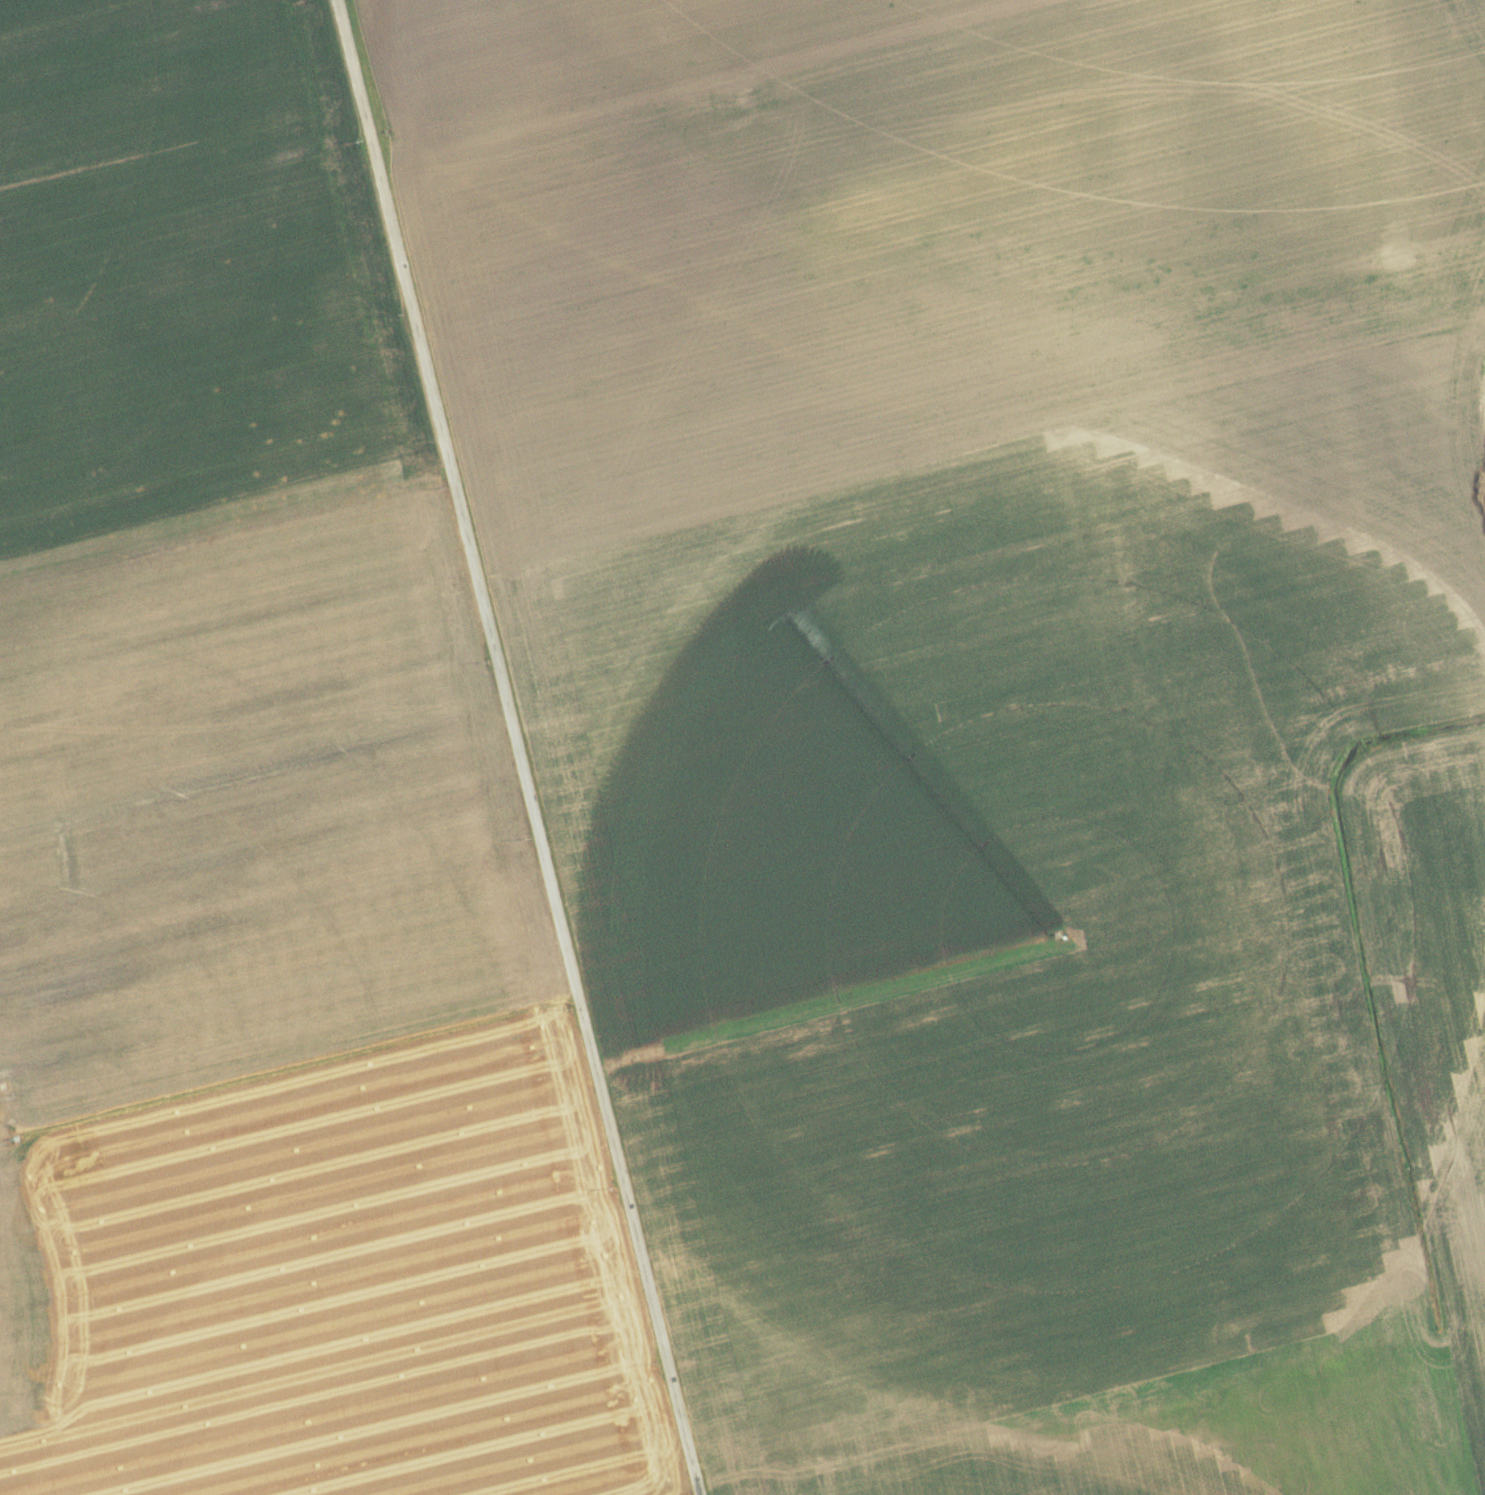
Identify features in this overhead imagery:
road: (518, 747)

